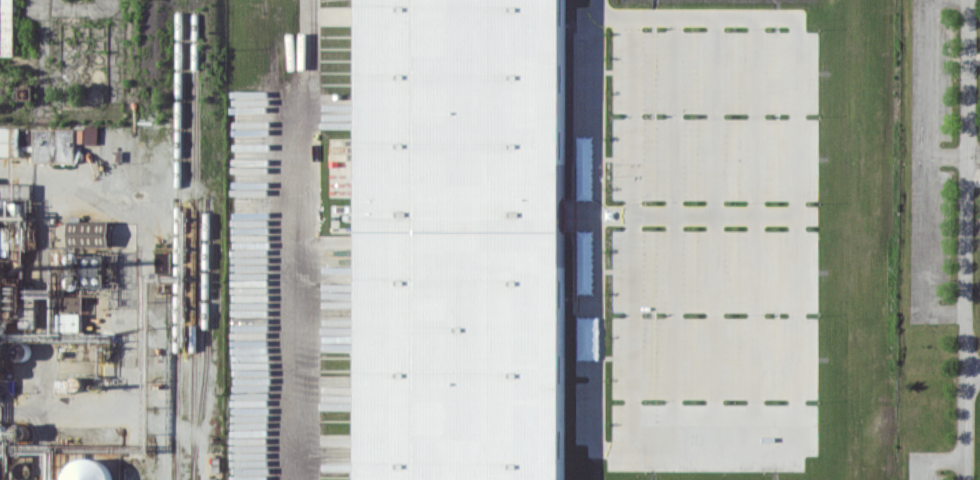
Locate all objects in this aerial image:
road: (598, 7)
building: (5, 27)
building: (88, 134)
building: (38, 142)
road: (946, 154)
road: (925, 155)
parking lot: (930, 160)
building: (23, 190)
building: (2, 204)
road: (695, 216)
road: (633, 231)
road: (717, 231)
road: (674, 232)
road: (755, 232)
building: (89, 233)
road: (291, 237)
building: (461, 239)
road: (965, 239)
railway: (178, 245)
railway: (193, 245)
building: (75, 288)
road: (945, 310)
railway: (205, 338)
road: (972, 373)
building: (3, 431)
road: (791, 446)
road: (936, 459)
parking lot: (927, 464)
building: (87, 469)

